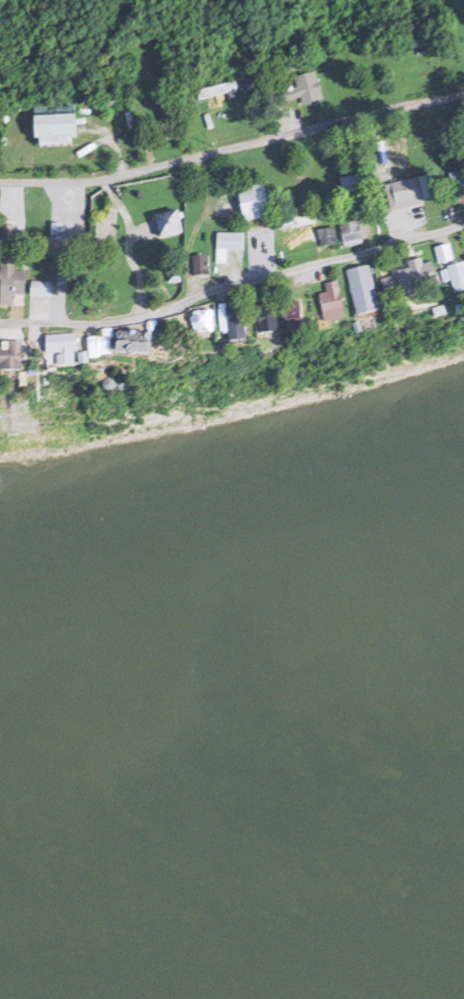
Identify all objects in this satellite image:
building: (304, 89)
road: (293, 119)
building: (56, 123)
road: (113, 138)
road: (233, 148)
road: (77, 149)
building: (458, 182)
building: (354, 184)
road: (64, 196)
road: (207, 200)
road: (463, 201)
building: (254, 204)
road: (13, 210)
road: (418, 218)
building: (170, 225)
building: (353, 231)
building: (307, 232)
road: (129, 239)
building: (266, 244)
building: (229, 246)
road: (319, 249)
road: (254, 262)
building: (202, 266)
road: (312, 270)
road: (222, 277)
building: (459, 279)
building: (421, 280)
building: (12, 285)
road: (234, 285)
road: (263, 285)
building: (42, 290)
road: (61, 293)
building: (367, 293)
building: (336, 305)
road: (16, 311)
building: (272, 320)
road: (8, 324)
building: (299, 325)
building: (238, 327)
road: (35, 329)
road: (82, 329)
building: (157, 334)
building: (66, 350)
building: (13, 359)

